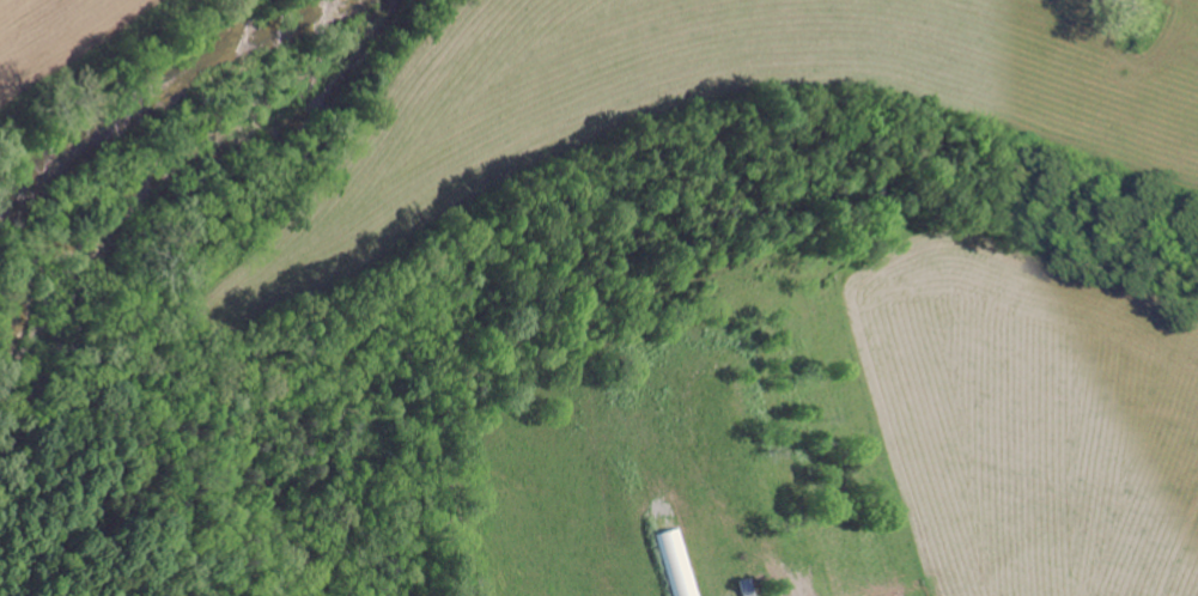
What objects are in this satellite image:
building: (679, 562)

